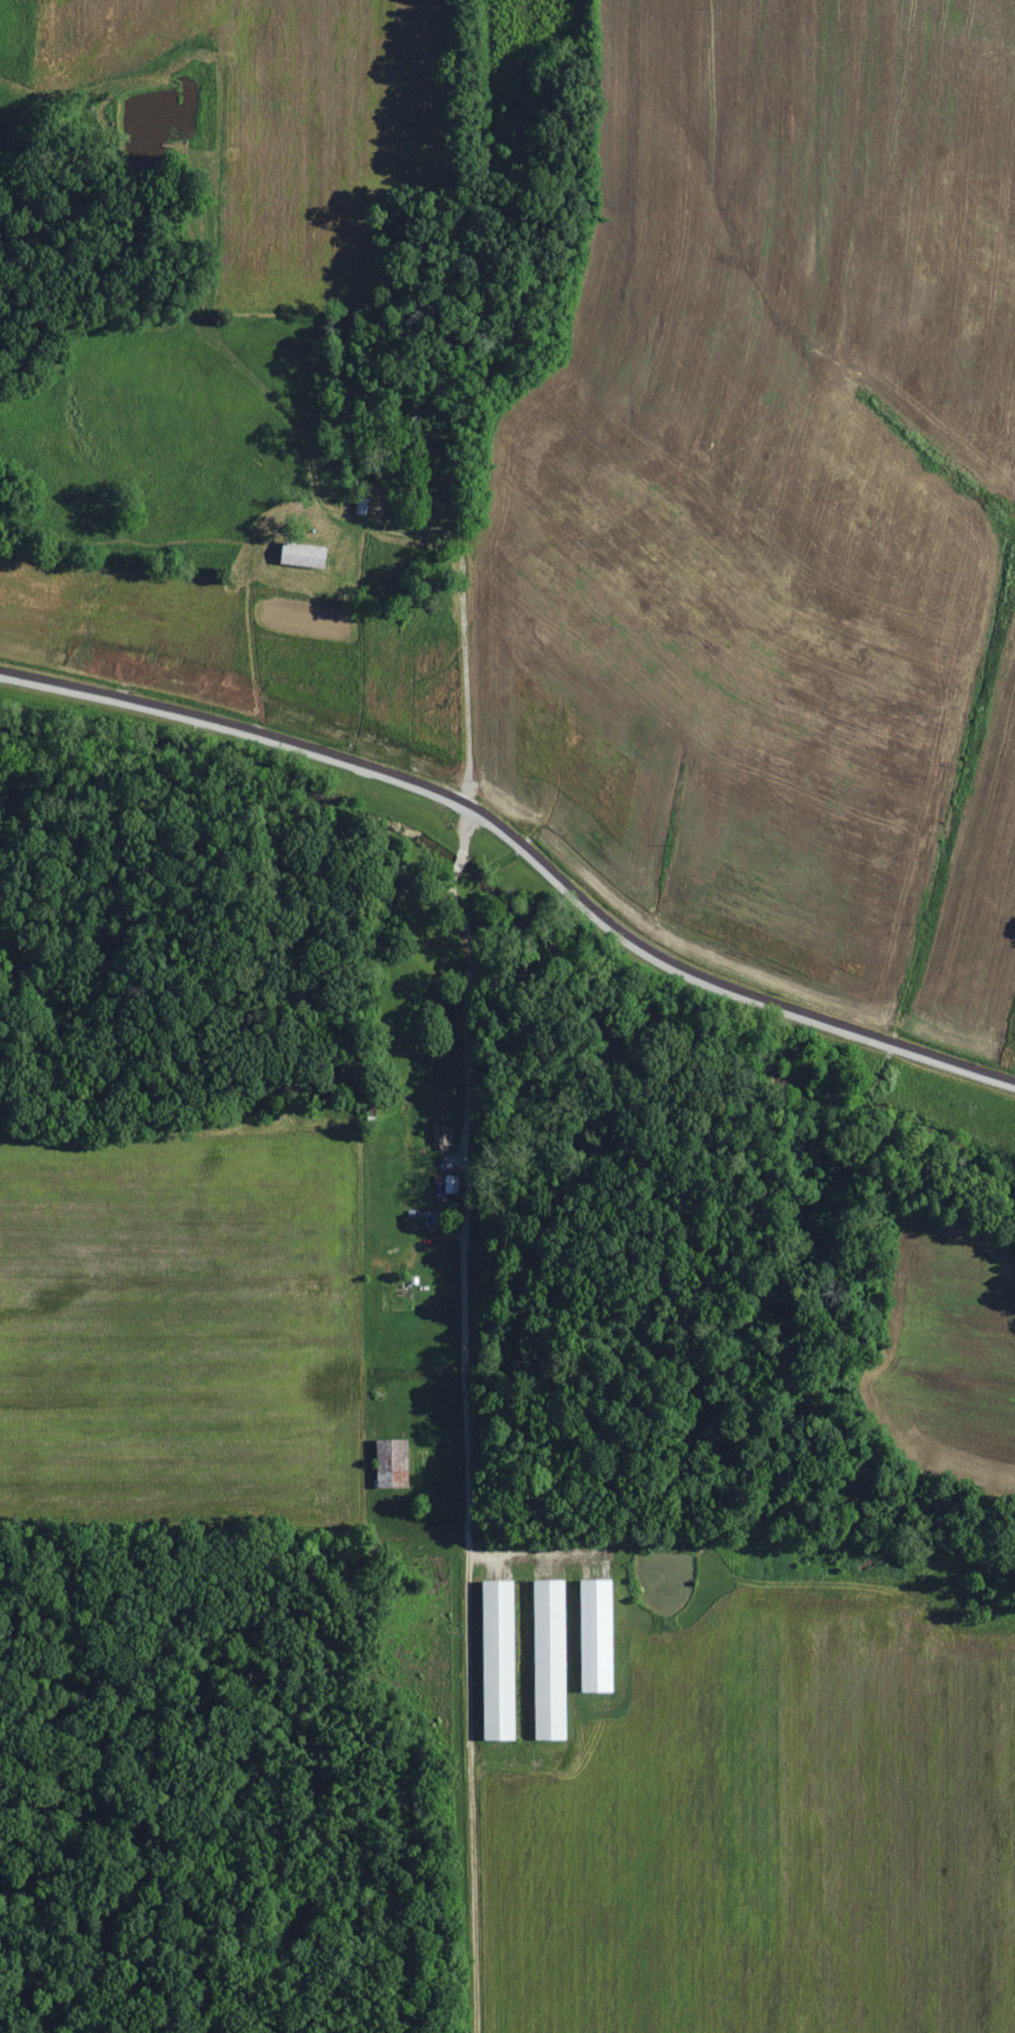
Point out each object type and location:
building: (304, 554)
road: (521, 845)
road: (468, 1169)
building: (451, 1184)
building: (597, 1633)
building: (551, 1656)
building: (499, 1657)

